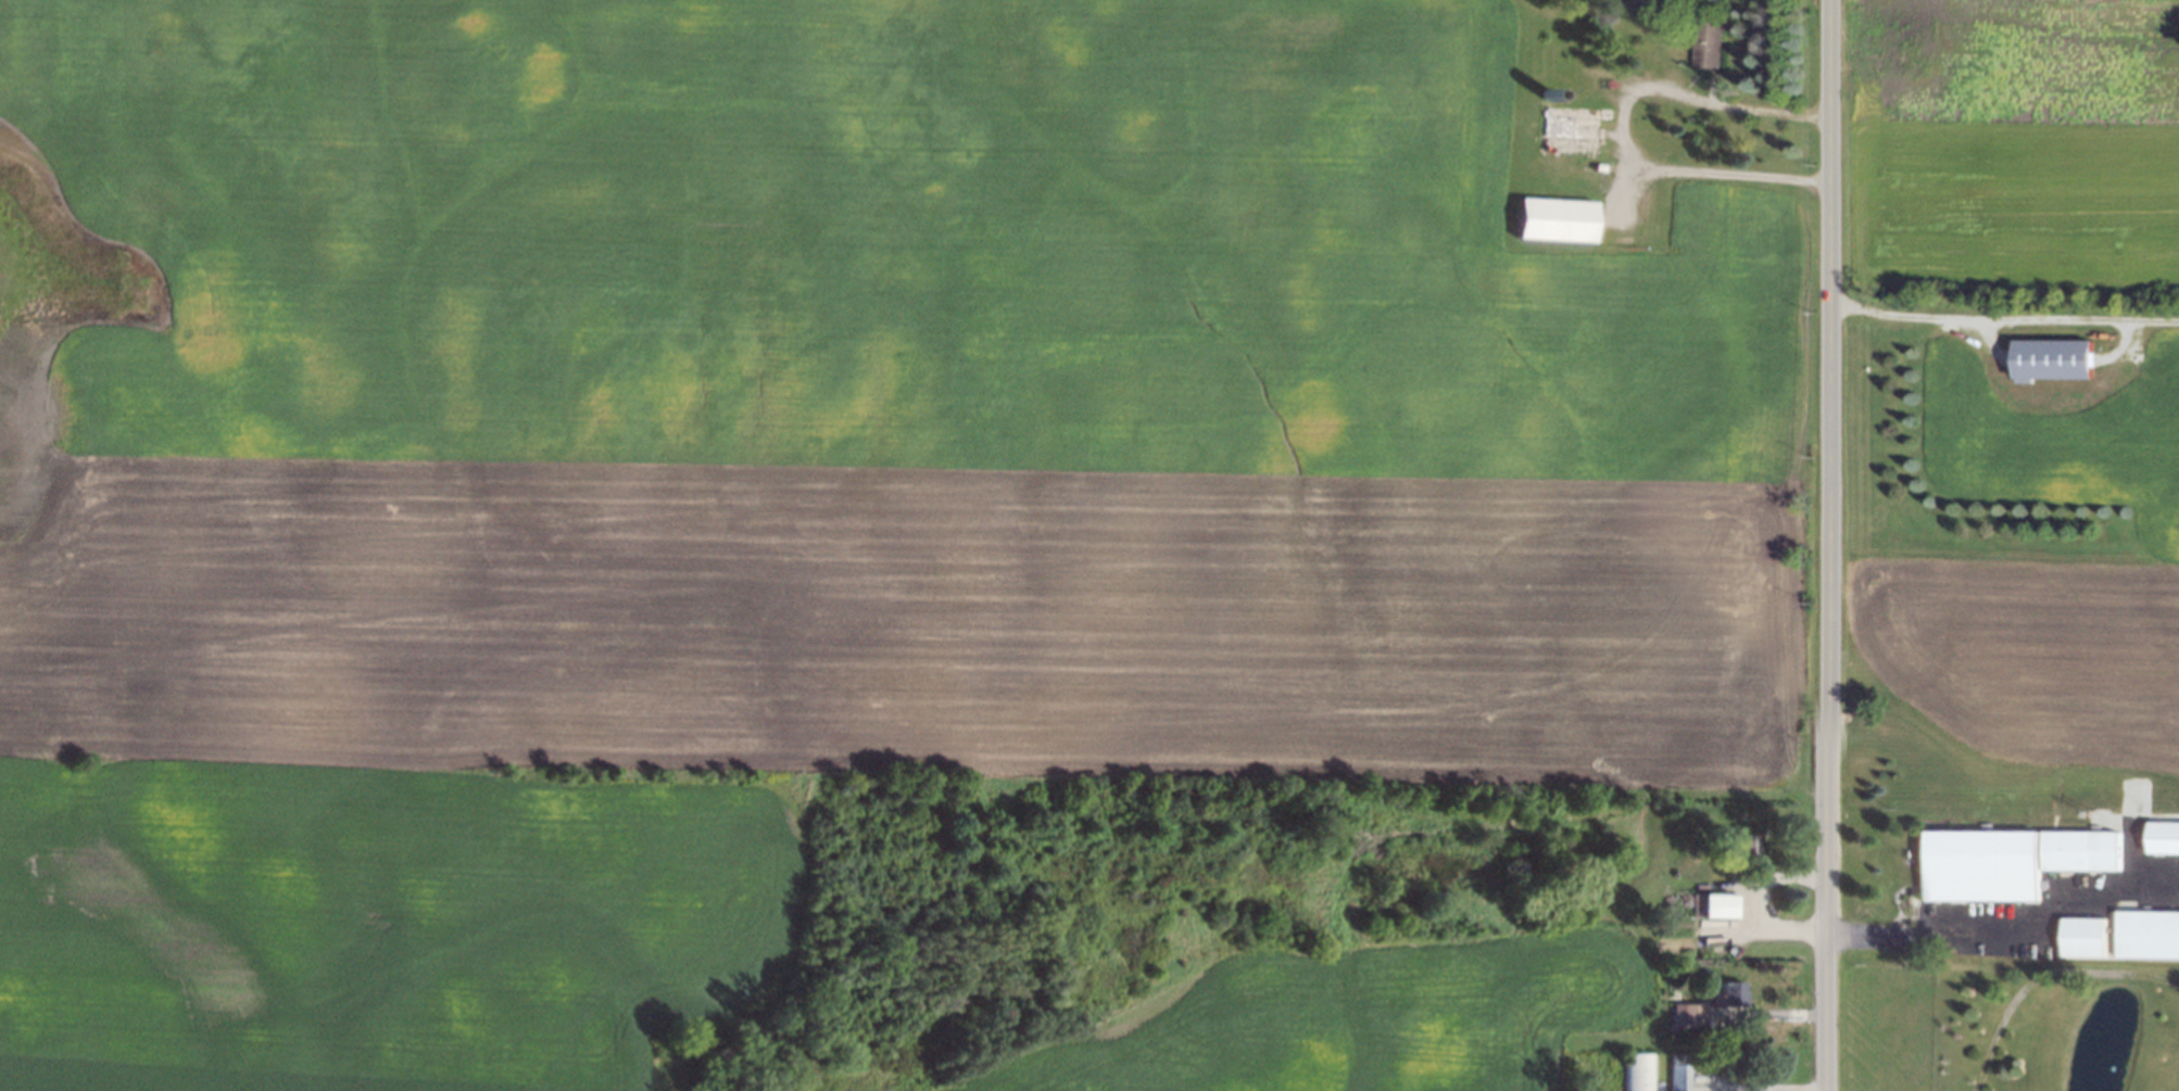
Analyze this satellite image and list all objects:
building: (1708, 37)
building: (1547, 91)
road: (1628, 111)
building: (1570, 131)
building: (1557, 219)
road: (1989, 317)
building: (2051, 358)
crop: (790, 482)
road: (1819, 545)
building: (2162, 838)
building: (1747, 848)
building: (2010, 863)
building: (1712, 906)
road: (2006, 935)
building: (2123, 937)
building: (1735, 993)
building: (1673, 994)
building: (1693, 1014)
crop: (1337, 1022)
building: (1636, 1071)
building: (1679, 1071)
road: (1768, 1087)

